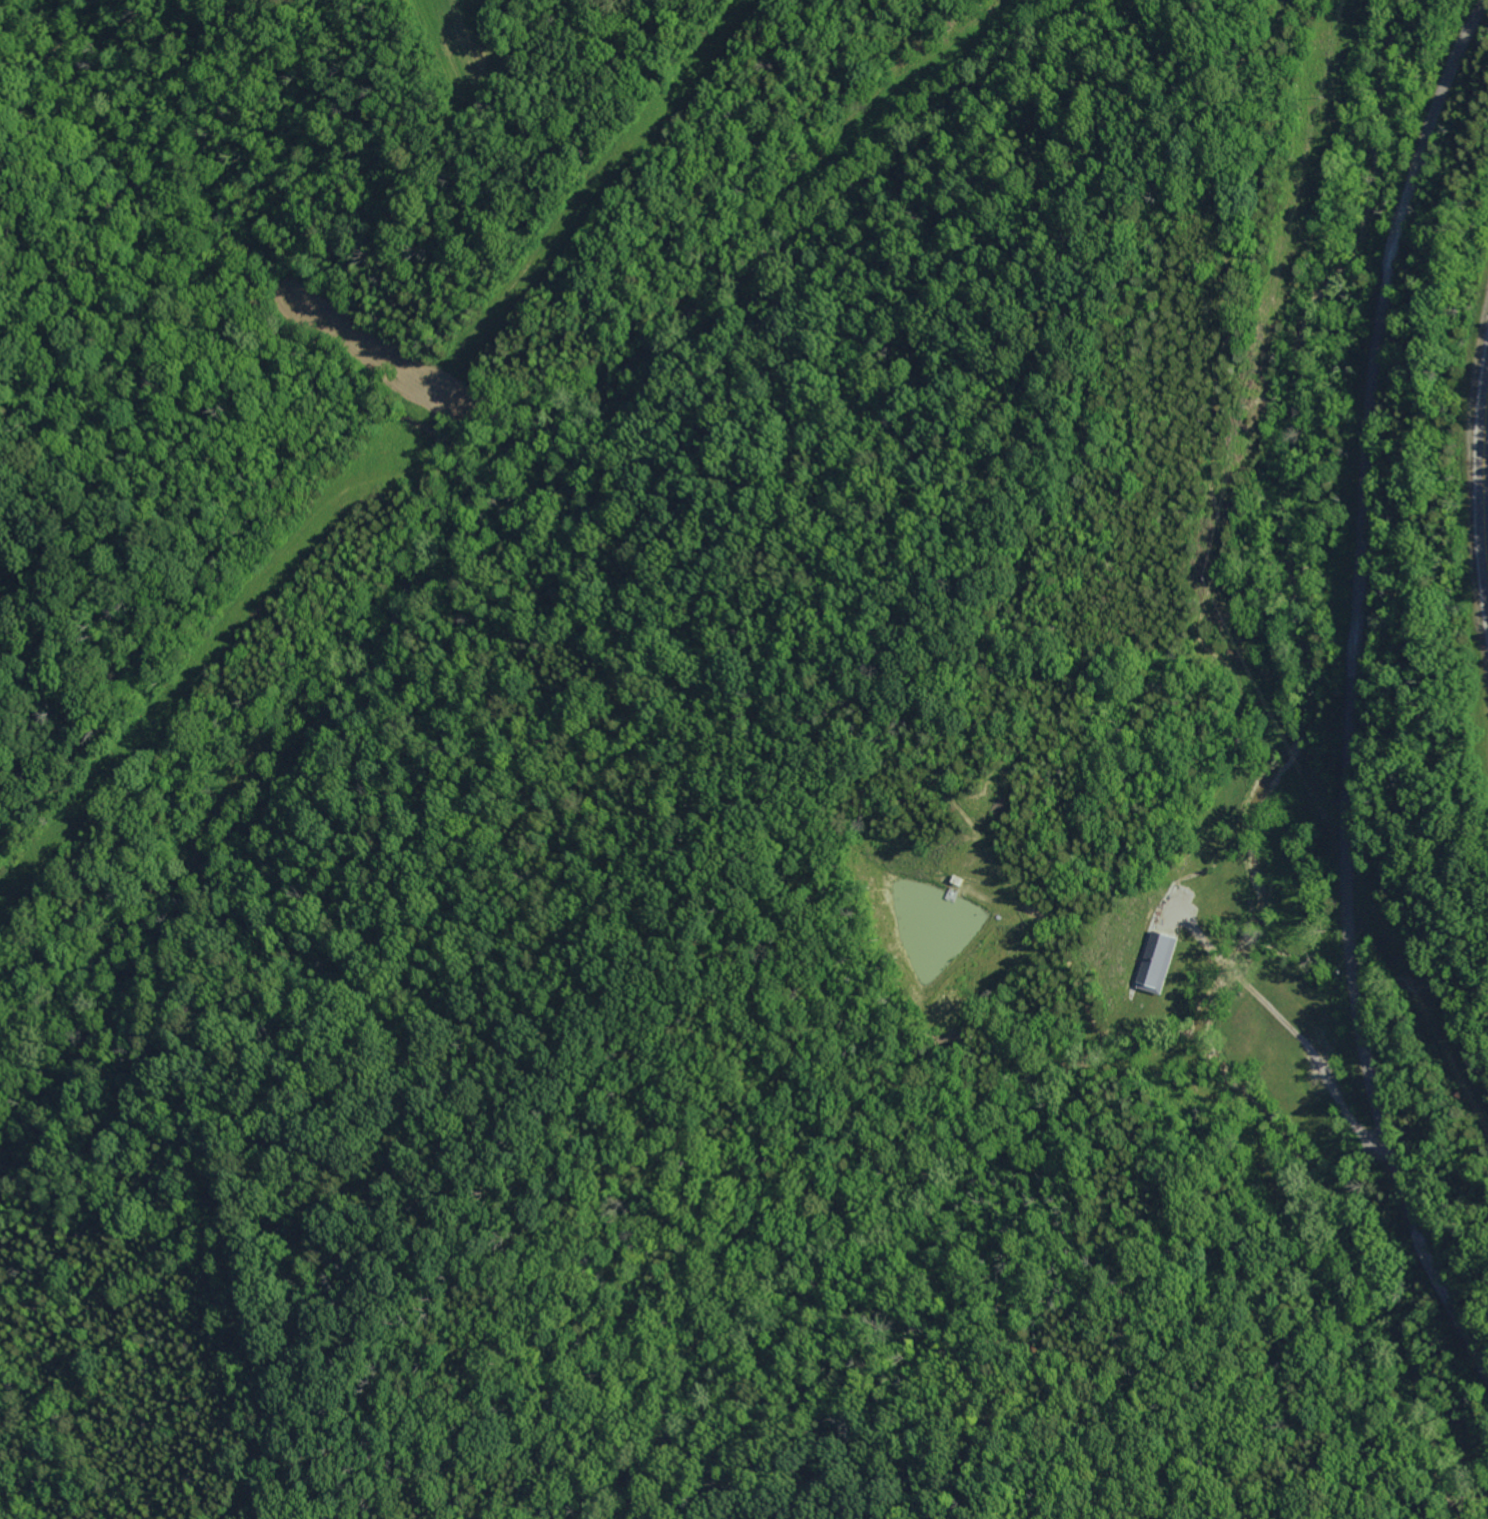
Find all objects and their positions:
road: (1482, 489)
road: (1349, 694)
building: (1160, 961)
road: (1292, 1030)

